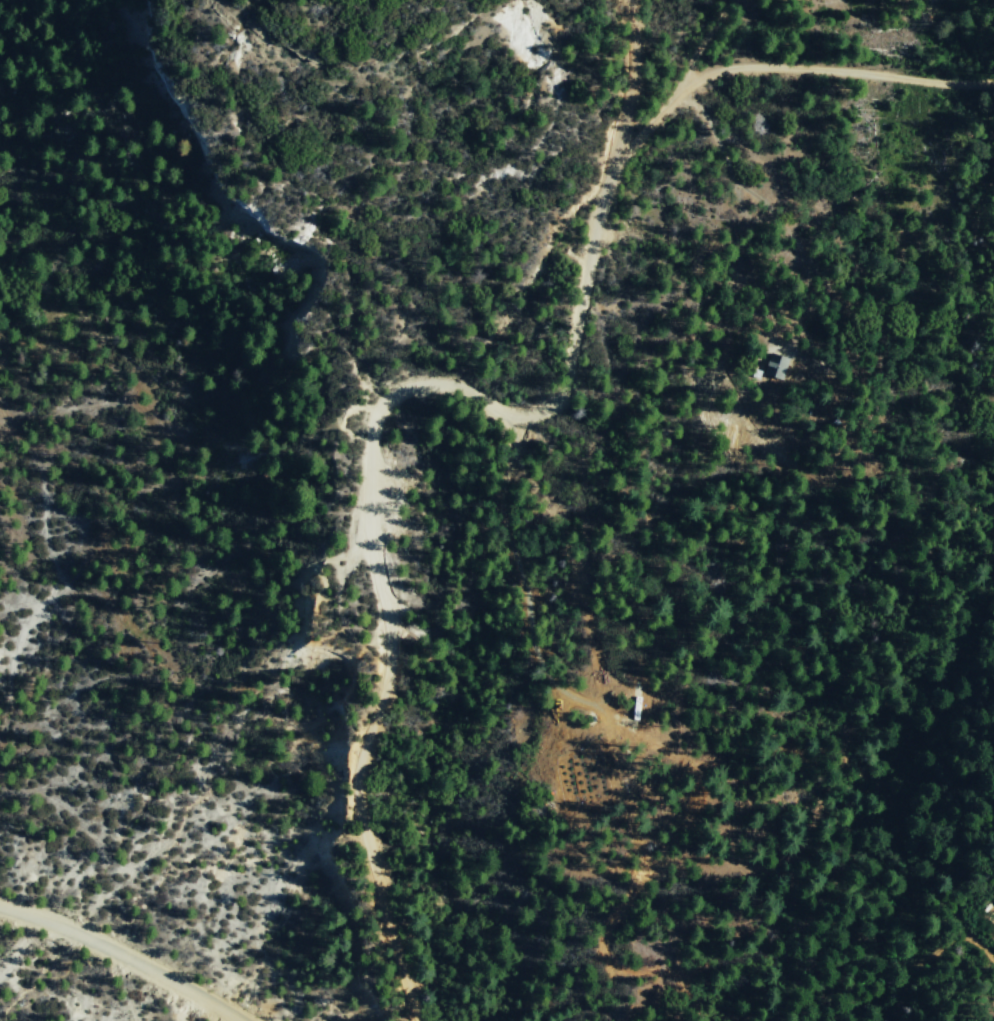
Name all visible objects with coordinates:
road: (704, 40)
road: (788, 69)
building: (776, 364)
road: (374, 422)
road: (123, 957)

